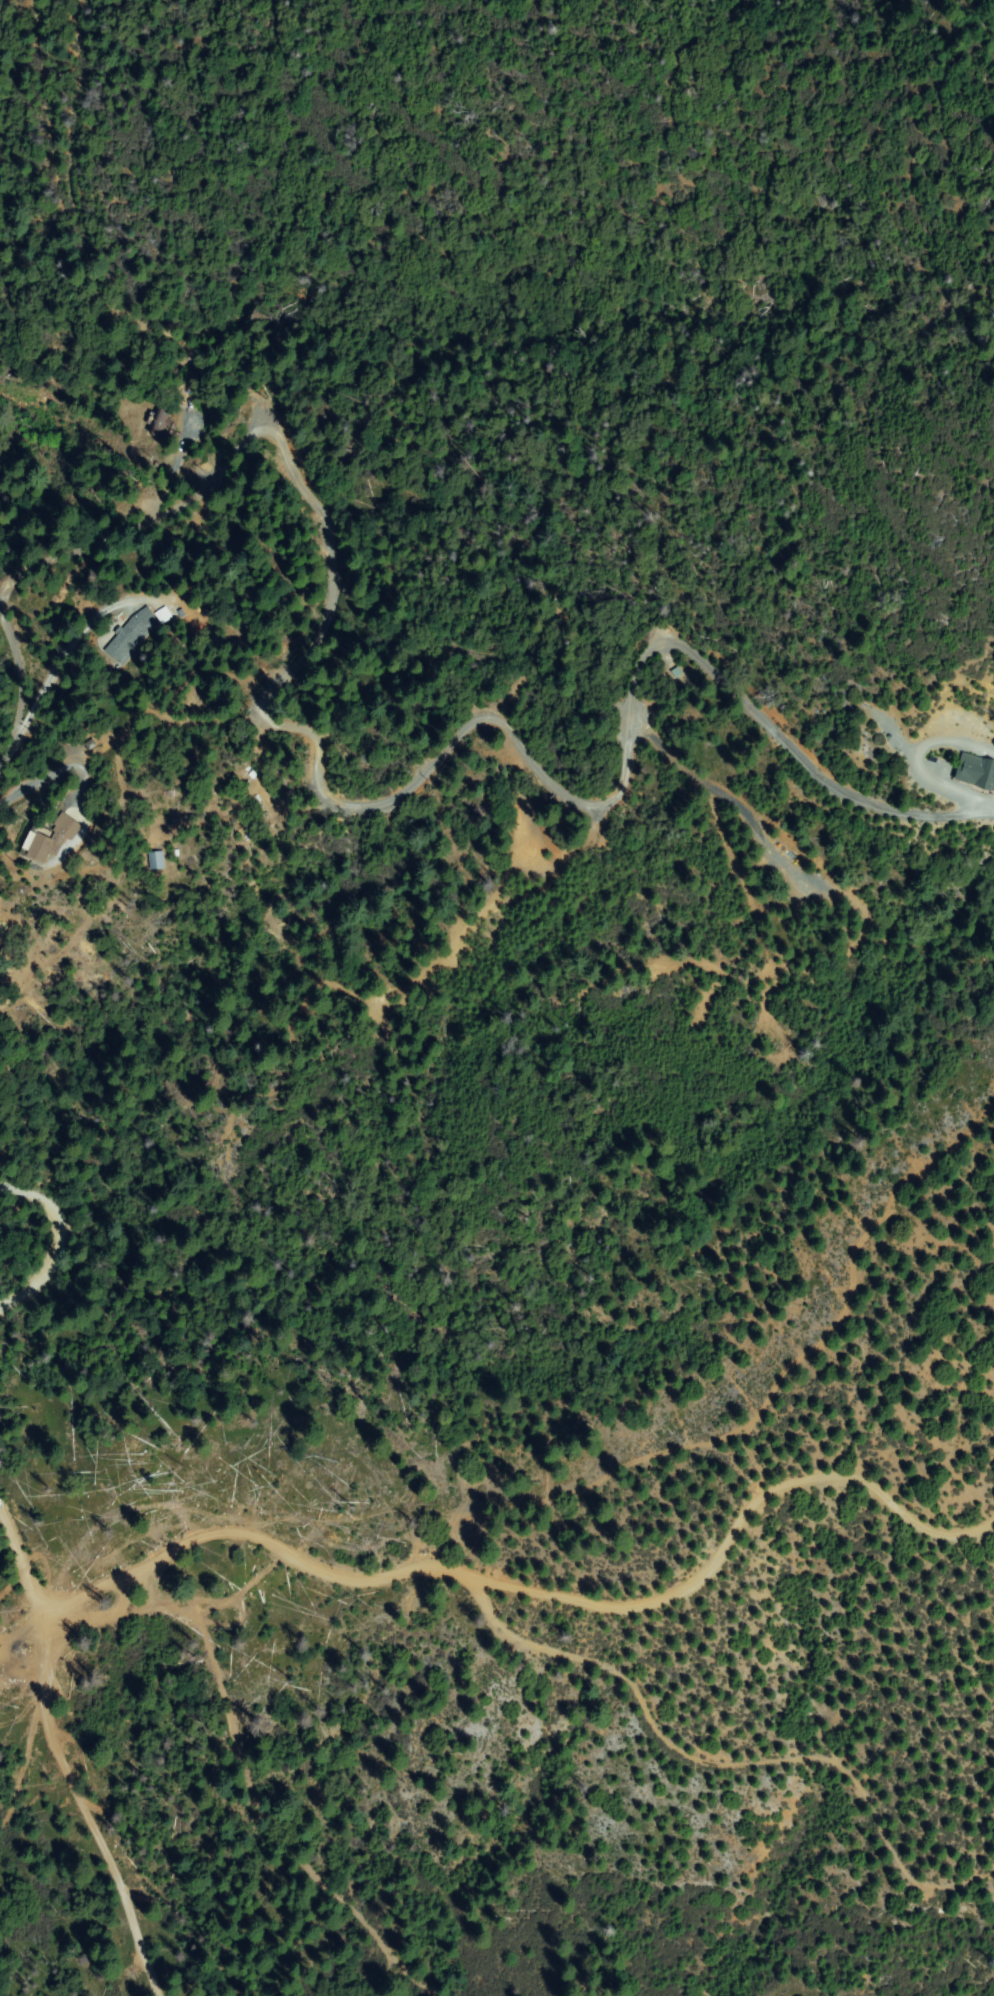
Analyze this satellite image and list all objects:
building: (160, 422)
building: (167, 615)
building: (131, 633)
building: (677, 672)
building: (975, 774)
building: (245, 775)
building: (252, 776)
building: (66, 827)
building: (42, 848)
building: (156, 860)
road: (86, 1213)
road: (483, 1586)
road: (368, 1777)
road: (74, 1779)

